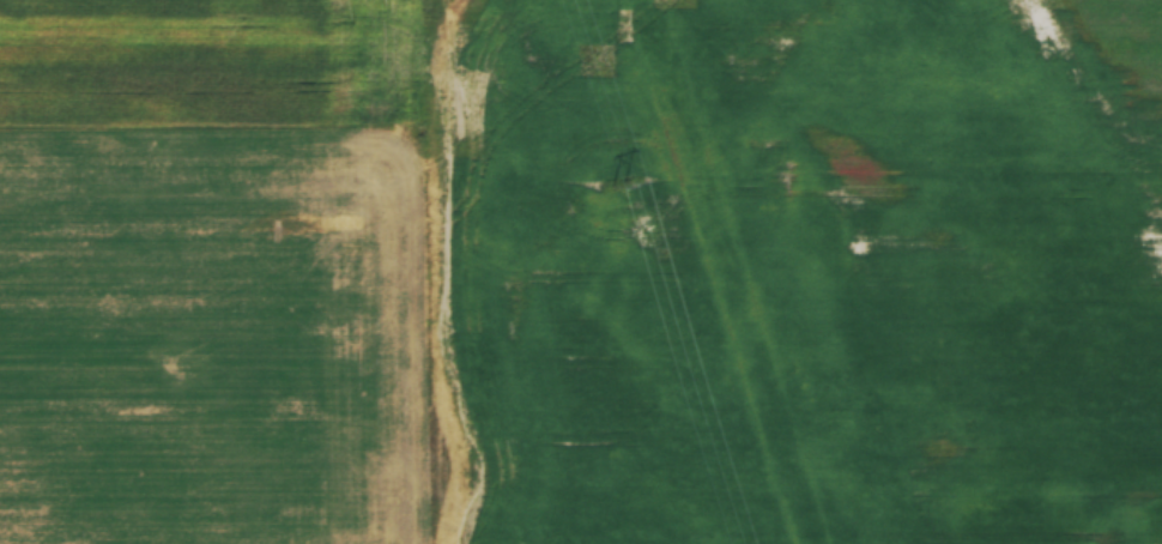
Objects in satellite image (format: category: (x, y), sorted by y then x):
power tower: (621, 185)

